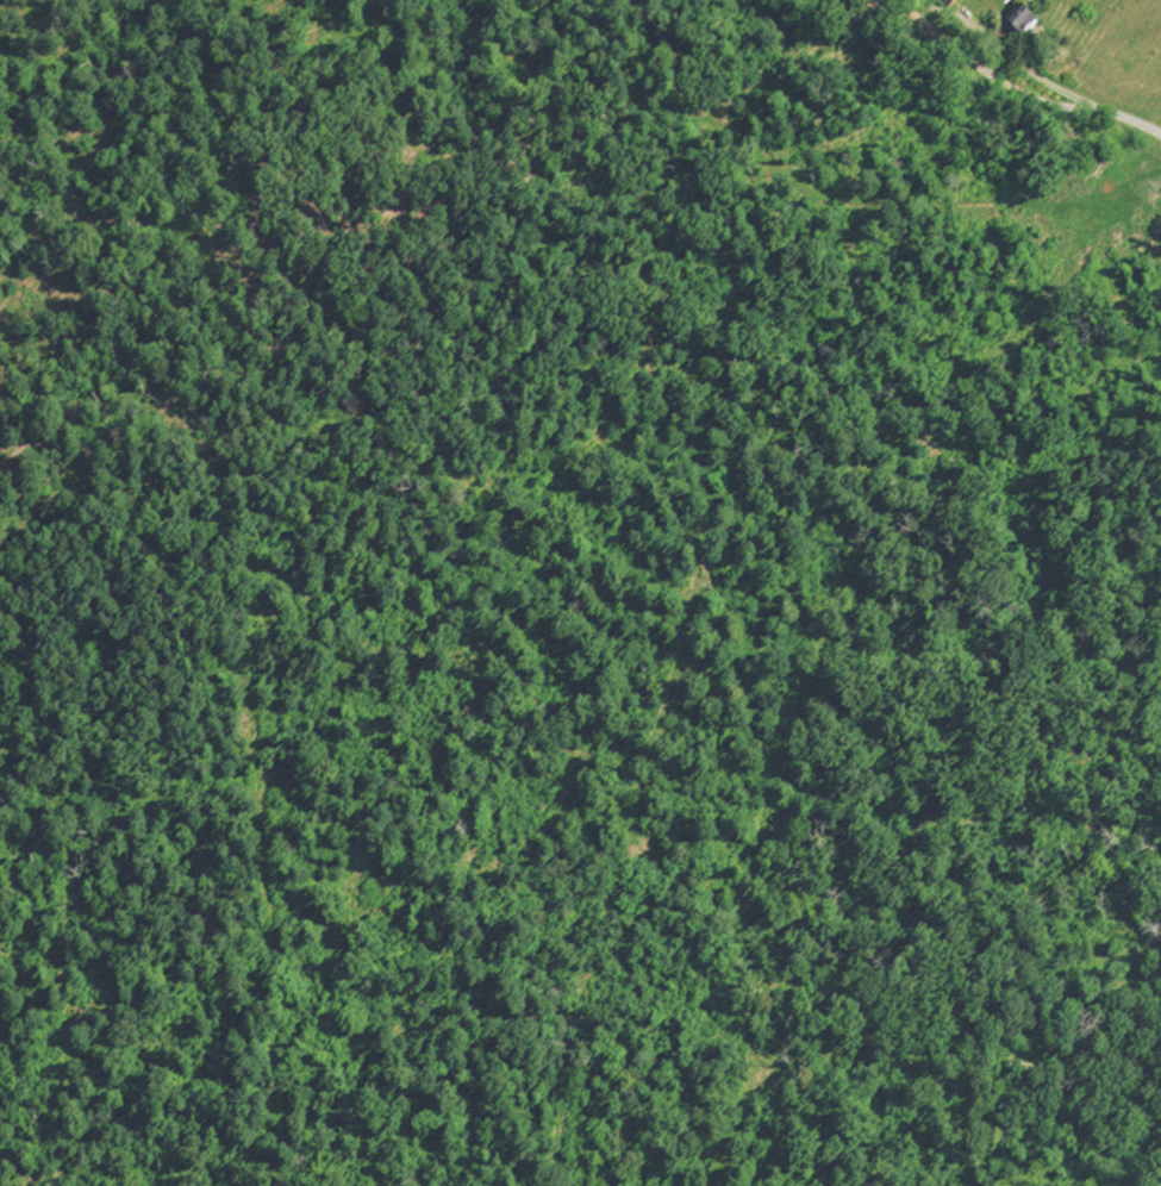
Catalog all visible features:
building: (1015, 29)
road: (1036, 75)

